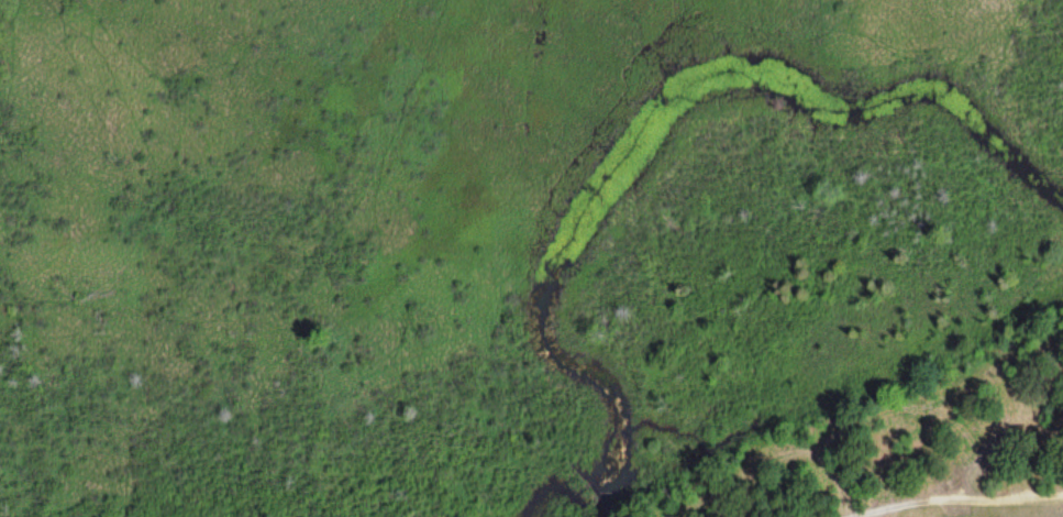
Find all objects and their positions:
road: (955, 501)

